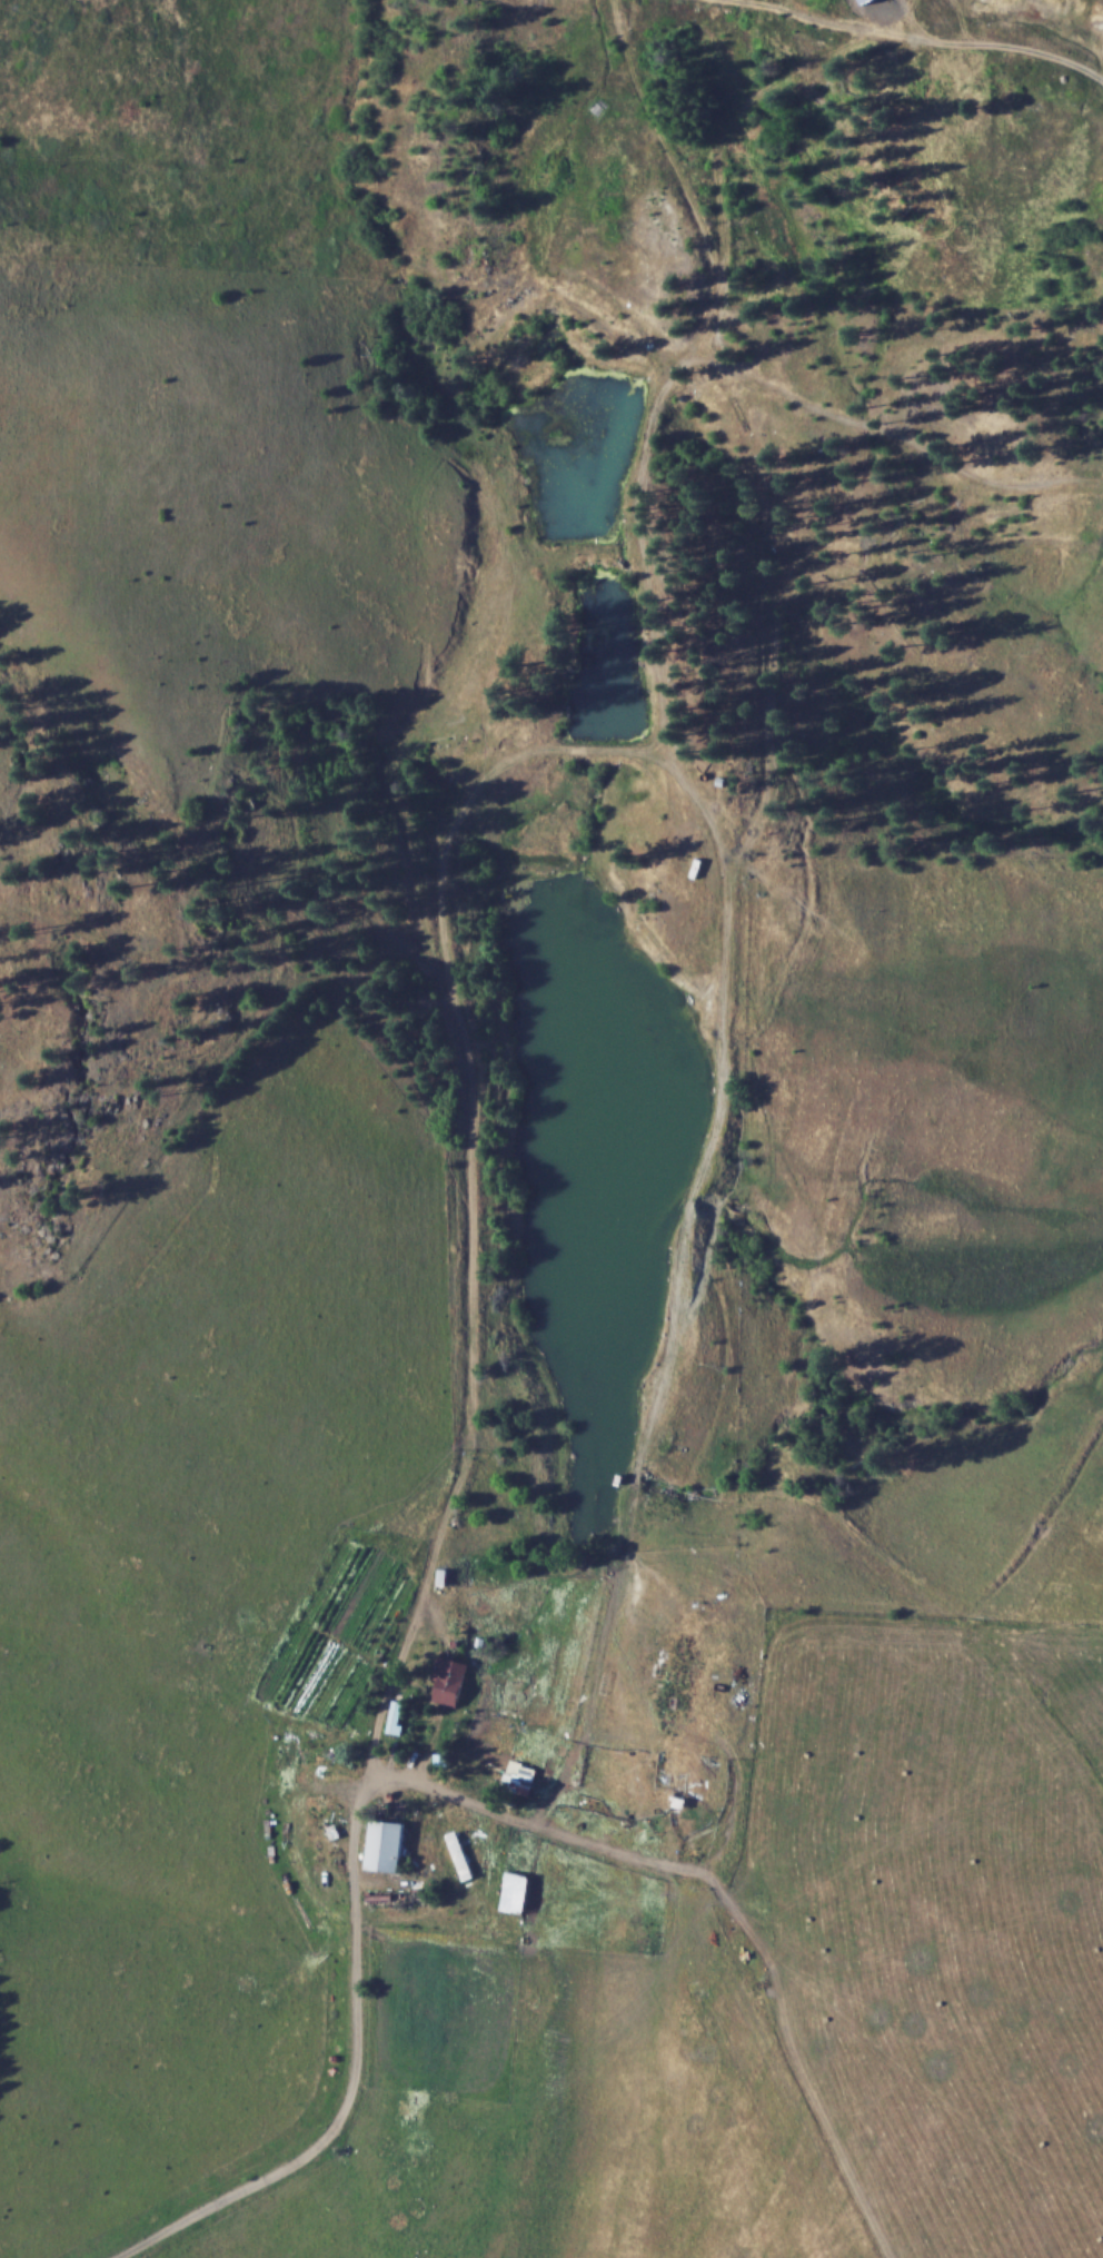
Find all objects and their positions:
building: (449, 1680)
building: (521, 1779)
building: (679, 1798)
road: (354, 1825)
building: (387, 1844)
building: (460, 1854)
building: (516, 1891)

